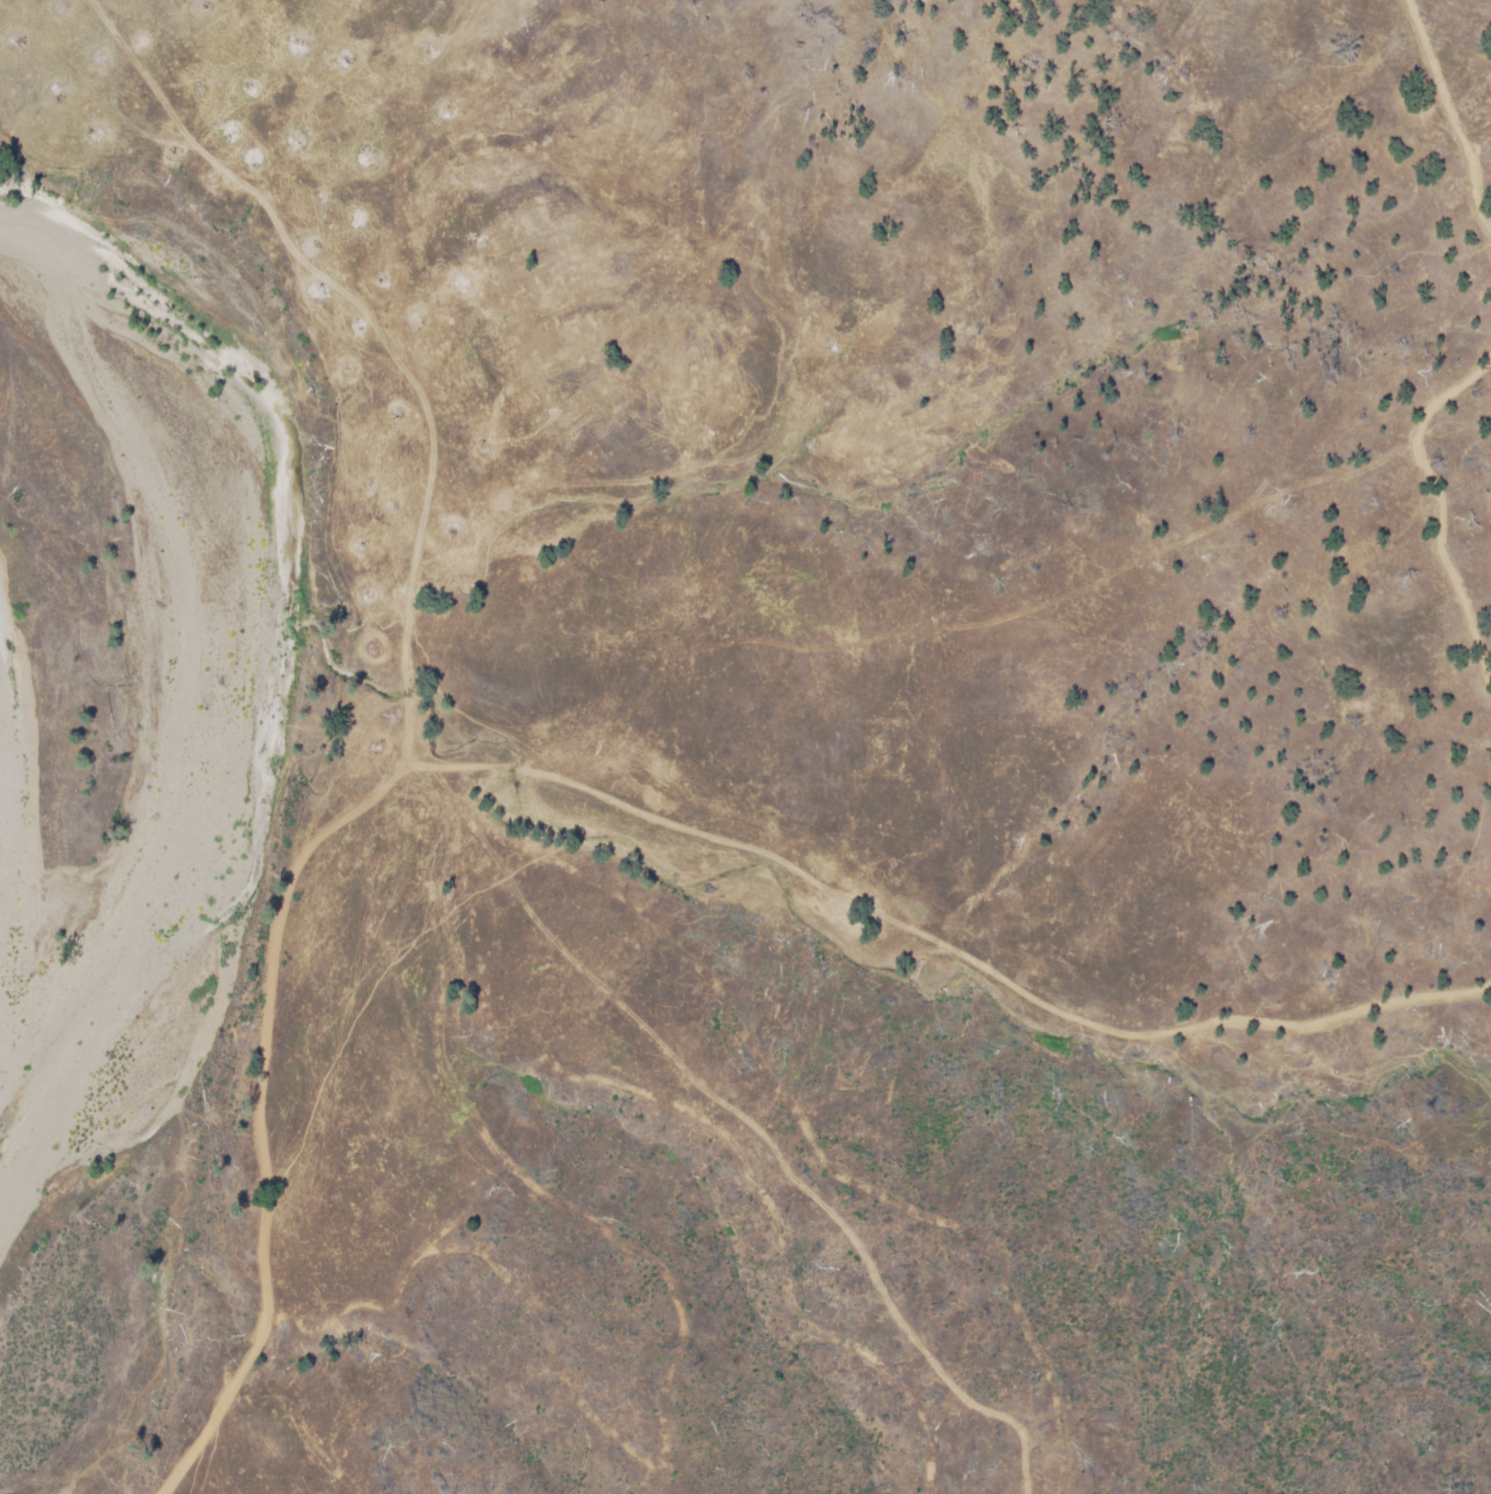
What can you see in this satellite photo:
road: (1453, 113)
road: (1439, 501)
road: (404, 708)
road: (940, 944)

